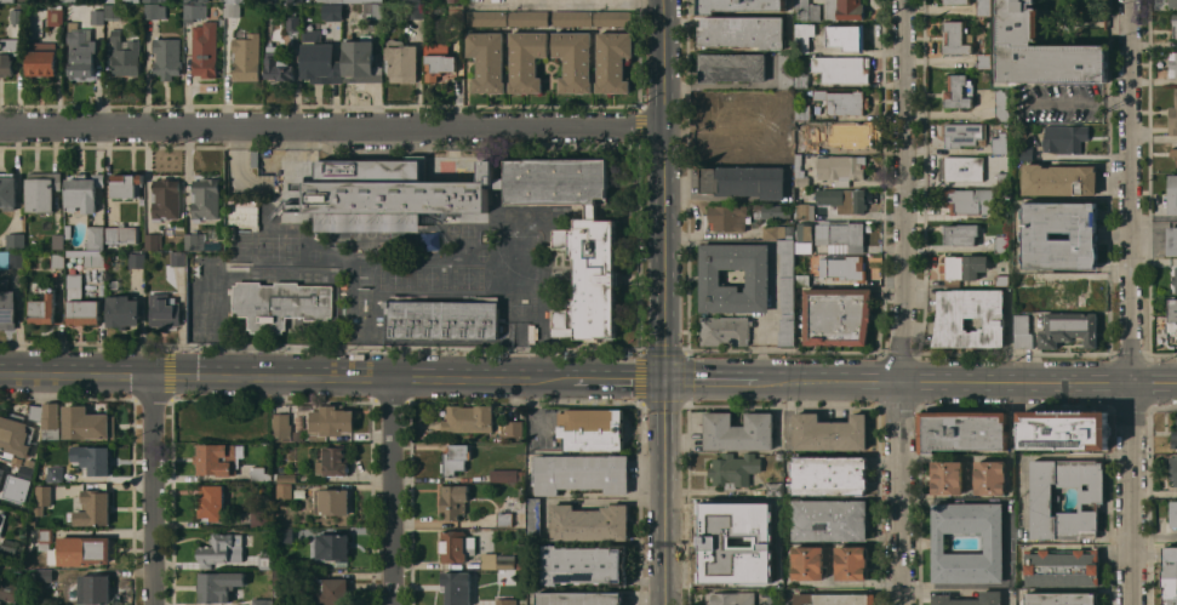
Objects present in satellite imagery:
building: (23, 0)
building: (69, 0)
building: (121, 0)
building: (155, 0)
building: (222, 0)
building: (286, 0)
building: (330, 0)
building: (411, 0)
building: (7, 1)
building: (198, 1)
building: (236, 1)
building: (364, 1)
building: (390, 1)
building: (456, 1)
road: (565, 1)
building: (956, 1)
building: (1173, 4)
building: (737, 5)
building: (984, 7)
building: (234, 8)
building: (845, 10)
building: (113, 11)
building: (154, 11)
building: (193, 11)
building: (333, 11)
building: (375, 11)
building: (416, 11)
building: (806, 11)
building: (98, 15)
building: (16, 16)
building: (55, 16)
building: (457, 16)
building: (613, 17)
building: (487, 18)
building: (528, 18)
building: (573, 18)
building: (982, 22)
building: (1175, 23)
building: (743, 32)
building: (804, 36)
building: (847, 36)
building: (958, 38)
building: (81, 48)
building: (205, 50)
building: (1042, 50)
building: (125, 53)
building: (8, 55)
building: (167, 57)
building: (246, 57)
building: (42, 58)
building: (320, 59)
building: (527, 59)
building: (575, 59)
building: (361, 61)
building: (401, 61)
building: (487, 61)
building: (613, 61)
building: (984, 61)
building: (279, 64)
road: (662, 64)
building: (439, 65)
building: (732, 67)
building: (1173, 67)
building: (842, 68)
building: (787, 70)
building: (801, 80)
building: (959, 91)
building: (842, 102)
road: (1076, 102)
building: (1001, 103)
building: (737, 110)
building: (802, 112)
building: (1173, 118)
road: (331, 127)
building: (787, 132)
building: (965, 133)
building: (844, 136)
building: (1065, 137)
building: (999, 143)
building: (802, 144)
building: (727, 148)
building: (1032, 153)
building: (1173, 154)
building: (255, 158)
building: (841, 169)
building: (964, 169)
building: (799, 172)
building: (1002, 179)
building: (1059, 179)
building: (744, 181)
building: (127, 184)
building: (8, 190)
building: (42, 190)
building: (84, 192)
building: (1172, 194)
building: (206, 198)
building: (166, 199)
building: (964, 199)
building: (842, 200)
building: (772, 211)
building: (804, 211)
building: (242, 215)
building: (729, 217)
building: (68, 232)
building: (778, 232)
building: (121, 234)
building: (840, 234)
building: (960, 234)
building: (1036, 235)
building: (96, 236)
building: (804, 236)
building: (16, 240)
building: (153, 240)
building: (195, 240)
building: (1172, 240)
building: (58, 241)
building: (1001, 244)
building: (593, 252)
road: (662, 253)
building: (12, 258)
building: (95, 258)
building: (58, 259)
building: (137, 261)
building: (844, 267)
building: (962, 267)
building: (787, 275)
building: (758, 278)
building: (1175, 279)
building: (802, 280)
building: (1001, 280)
building: (1027, 280)
building: (1063, 292)
road: (904, 302)
road: (1127, 302)
building: (81, 303)
building: (280, 303)
building: (7, 304)
road: (526, 306)
building: (44, 308)
building: (124, 310)
building: (164, 310)
building: (836, 315)
building: (444, 318)
building: (950, 319)
building: (1172, 324)
building: (1069, 329)
building: (725, 330)
building: (787, 330)
building: (1023, 331)
road: (330, 376)
traffic signals: (661, 378)
road: (919, 381)
building: (35, 412)
building: (469, 418)
building: (51, 421)
building: (331, 421)
building: (87, 423)
building: (299, 423)
building: (281, 427)
building: (514, 428)
building: (592, 429)
building: (1065, 429)
building: (739, 430)
building: (964, 430)
building: (830, 433)
building: (16, 435)
building: (297, 435)
building: (1175, 439)
building: (779, 451)
building: (781, 457)
building: (92, 458)
building: (218, 458)
building: (455, 458)
building: (332, 461)
building: (1173, 468)
building: (735, 469)
building: (25, 473)
building: (581, 473)
building: (55, 474)
building: (261, 474)
building: (829, 474)
building: (1, 475)
building: (507, 475)
building: (285, 476)
building: (990, 476)
building: (947, 478)
road: (155, 489)
building: (775, 489)
building: (63, 490)
building: (285, 490)
road: (392, 491)
road: (661, 491)
building: (299, 493)
building: (1091, 495)
building: (41, 498)
building: (332, 501)
building: (455, 501)
road: (595, 501)
building: (211, 502)
building: (96, 507)
building: (1173, 513)
building: (513, 514)
building: (535, 516)
building: (2, 518)
building: (259, 518)
building: (732, 518)
building: (830, 519)
building: (39, 523)
building: (590, 523)
building: (775, 533)
building: (285, 535)
road: (1153, 537)
building: (45, 538)
building: (993, 542)
building: (10, 546)
building: (331, 546)
building: (456, 546)
building: (221, 549)
building: (84, 550)
building: (265, 559)
building: (733, 560)
building: (499, 561)
building: (809, 563)
building: (852, 563)
building: (585, 564)
building: (1062, 566)
building: (45, 575)
building: (1170, 576)
building: (773, 577)
building: (280, 583)
building: (218, 586)
building: (457, 587)
building: (97, 589)
building: (8, 590)
building: (331, 590)
building: (581, 598)
building: (732, 598)
building: (1062, 598)
building: (835, 599)
building: (970, 599)
building: (775, 600)
building: (0, 601)
building: (263, 601)
building: (505, 601)

